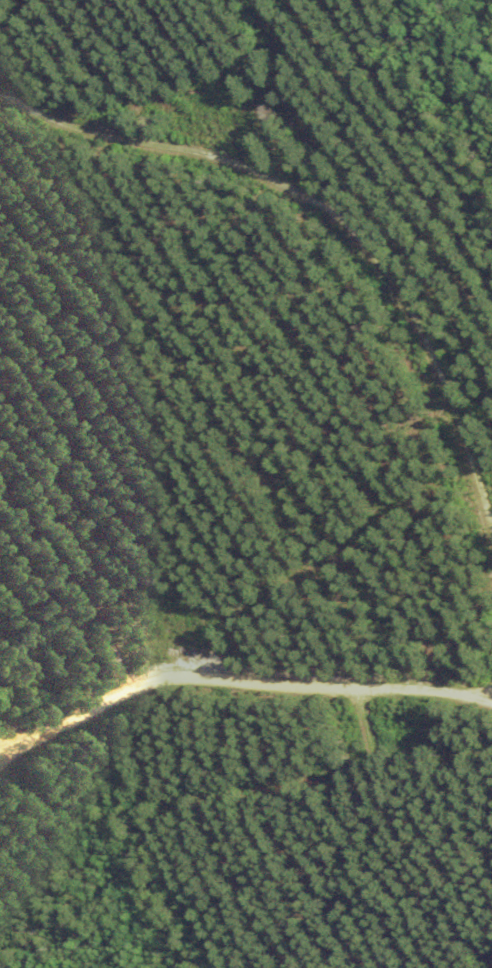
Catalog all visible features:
road: (239, 685)

